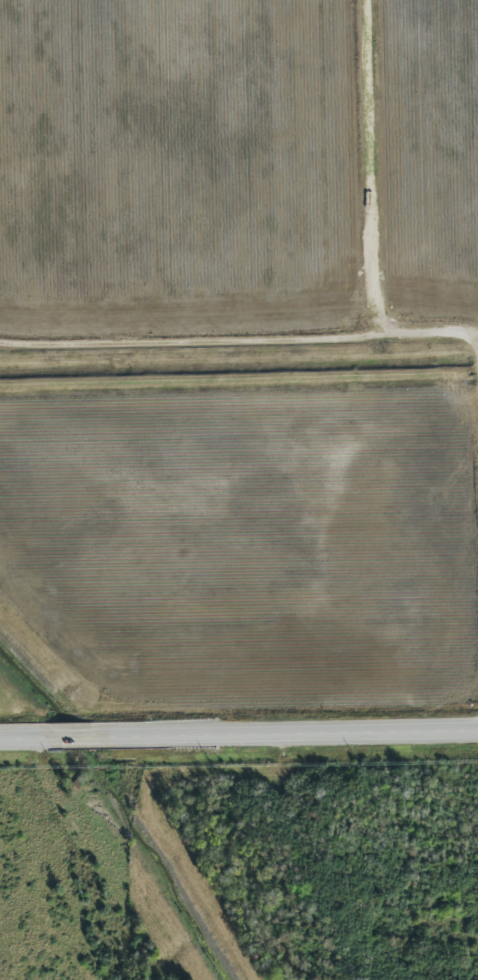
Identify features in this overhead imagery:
road: (374, 177)
road: (65, 195)
road: (238, 358)
road: (239, 736)

